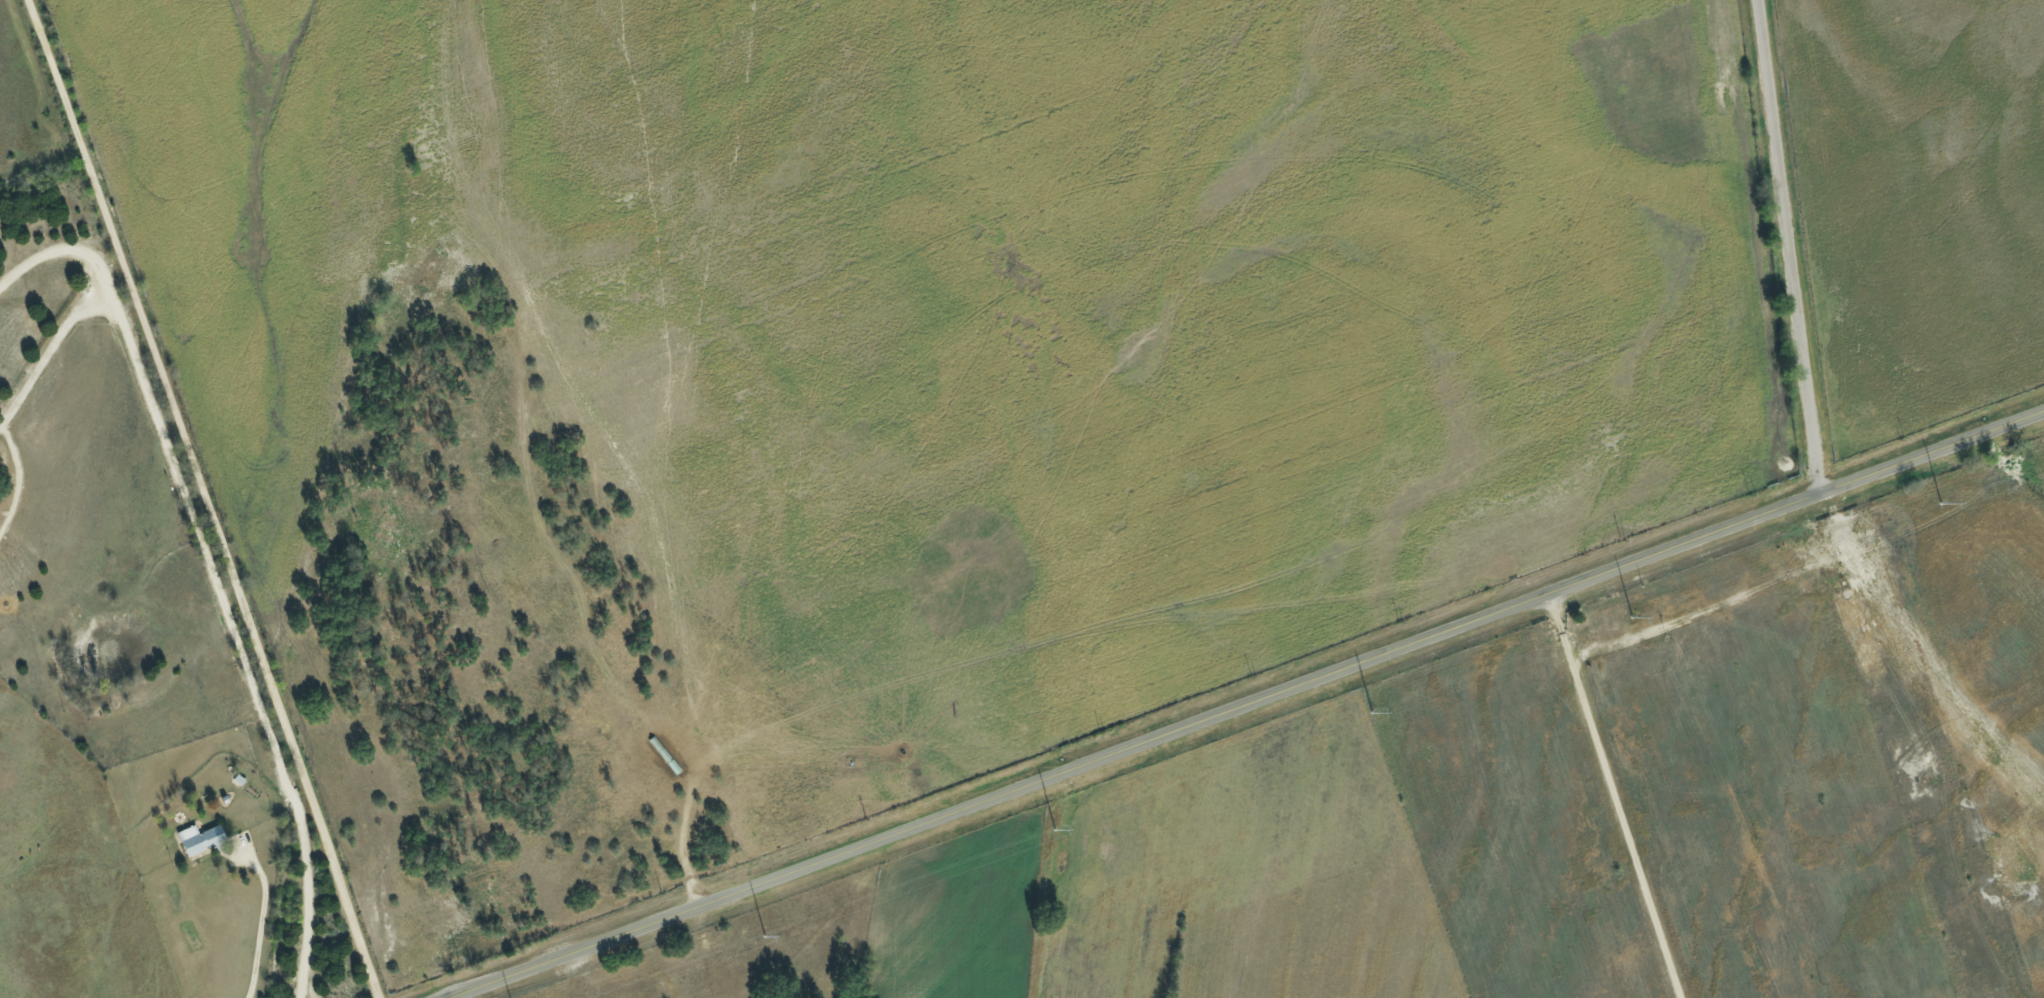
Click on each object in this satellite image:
road: (1789, 246)
road: (67, 252)
road: (44, 347)
road: (202, 498)
power tower: (1940, 504)
power tower: (1629, 617)
road: (235, 649)
road: (1246, 705)
power tower: (1369, 713)
road: (1625, 794)
power tower: (1052, 830)
building: (202, 838)
road: (683, 843)
road: (257, 922)
power tower: (763, 939)
road: (461, 995)

